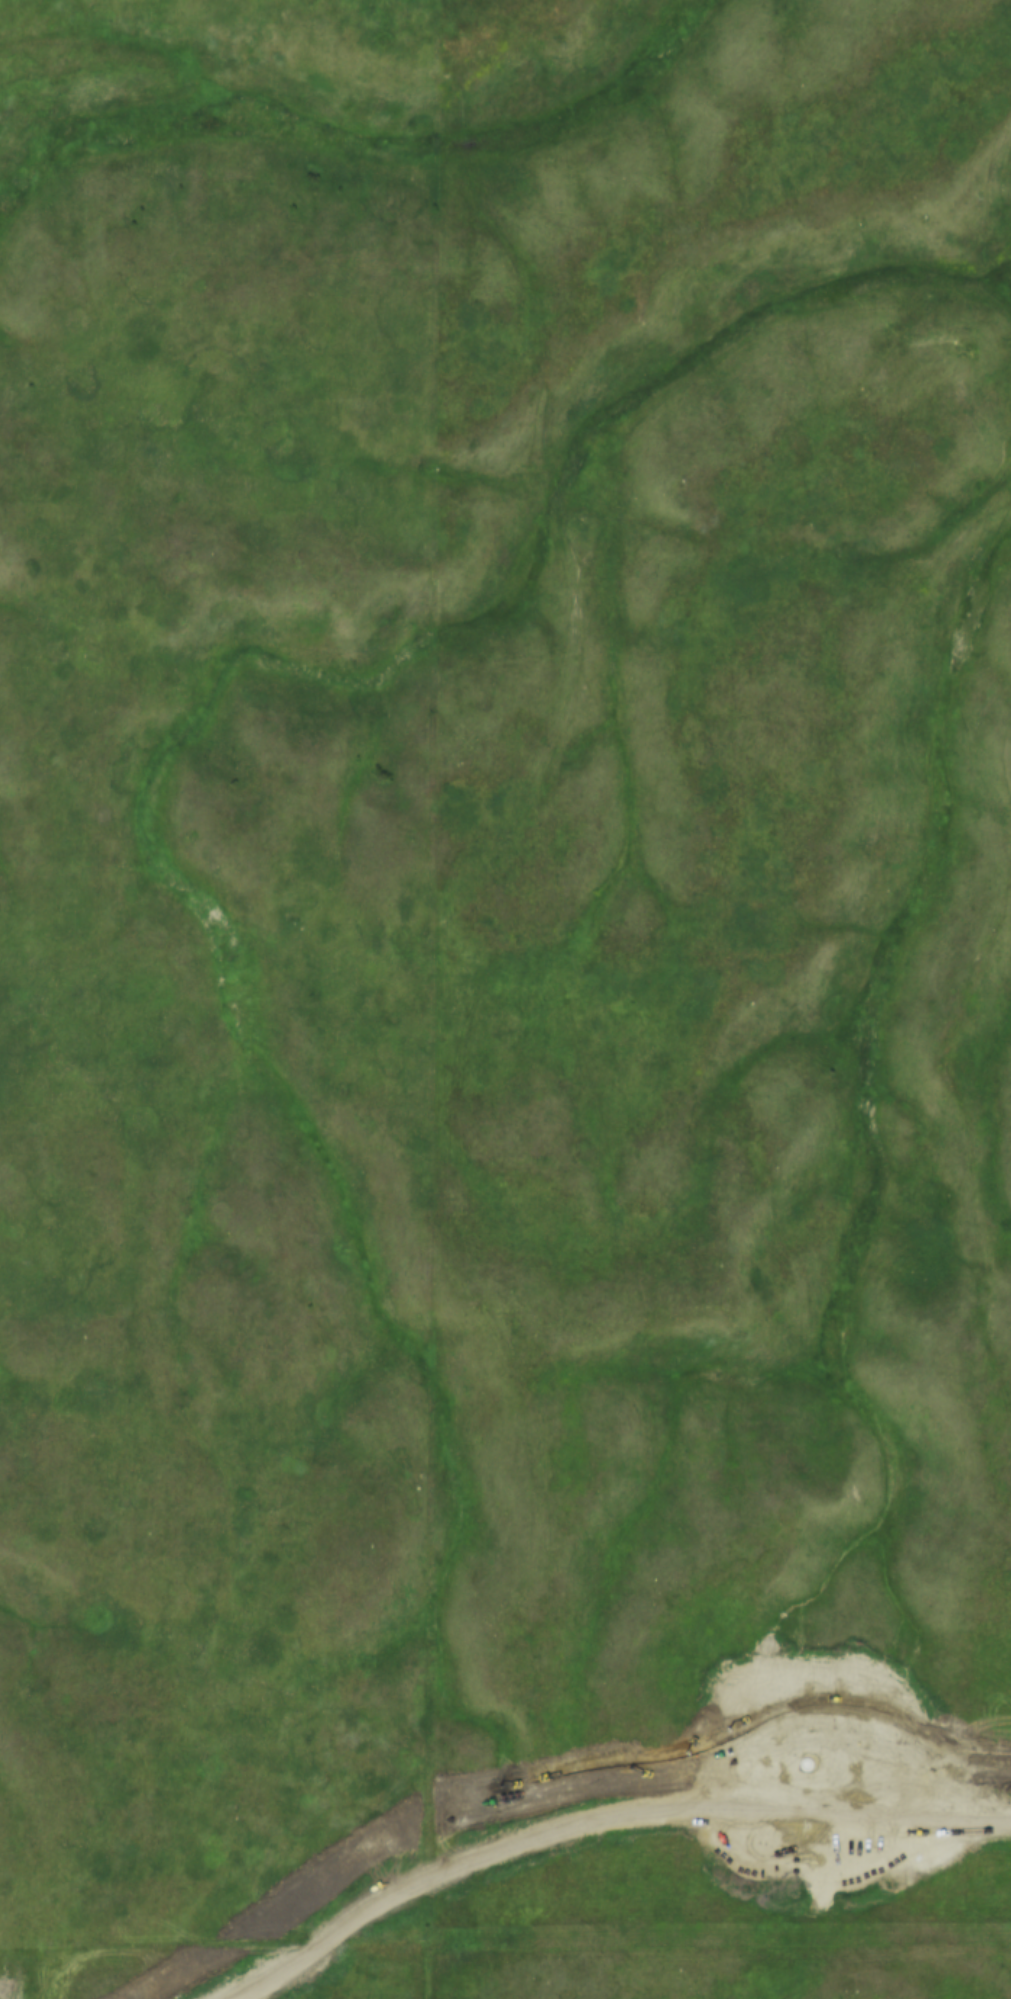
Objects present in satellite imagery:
wind turbine: (814, 1762)

